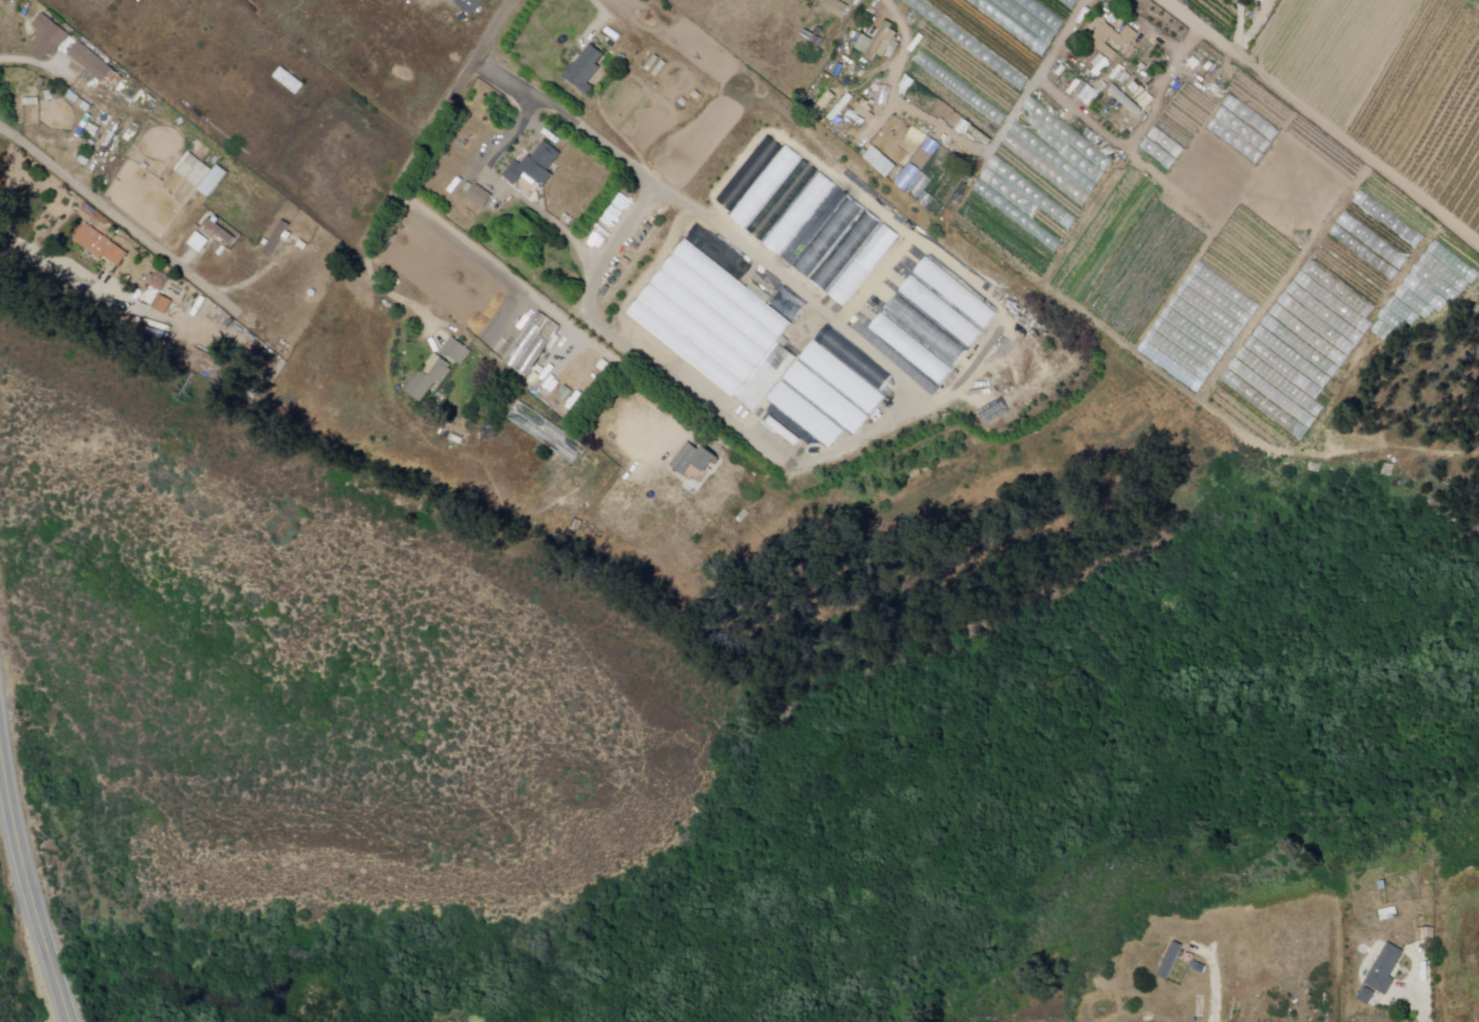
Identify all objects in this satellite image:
road: (882, 5)
building: (471, 6)
building: (837, 7)
road: (600, 21)
road: (1241, 28)
building: (50, 39)
building: (1112, 40)
building: (883, 43)
crop: (978, 56)
road: (14, 61)
building: (92, 63)
building: (588, 70)
building: (285, 81)
building: (1117, 101)
road: (526, 108)
road: (434, 117)
road: (1318, 121)
building: (874, 162)
building: (887, 163)
building: (537, 167)
building: (202, 175)
crop: (761, 192)
building: (483, 196)
building: (474, 197)
crop: (1266, 203)
road: (112, 214)
building: (800, 214)
building: (221, 232)
building: (278, 240)
building: (101, 246)
building: (847, 251)
road: (61, 267)
building: (160, 283)
road: (388, 294)
road: (545, 301)
building: (164, 305)
crop: (930, 319)
building: (720, 326)
building: (533, 344)
building: (458, 352)
building: (432, 379)
building: (828, 398)
building: (549, 433)
building: (696, 460)
building: (1370, 460)
road: (23, 902)
building: (1161, 950)
building: (1169, 961)
building: (1198, 967)
building: (1384, 969)
building: (1366, 996)

